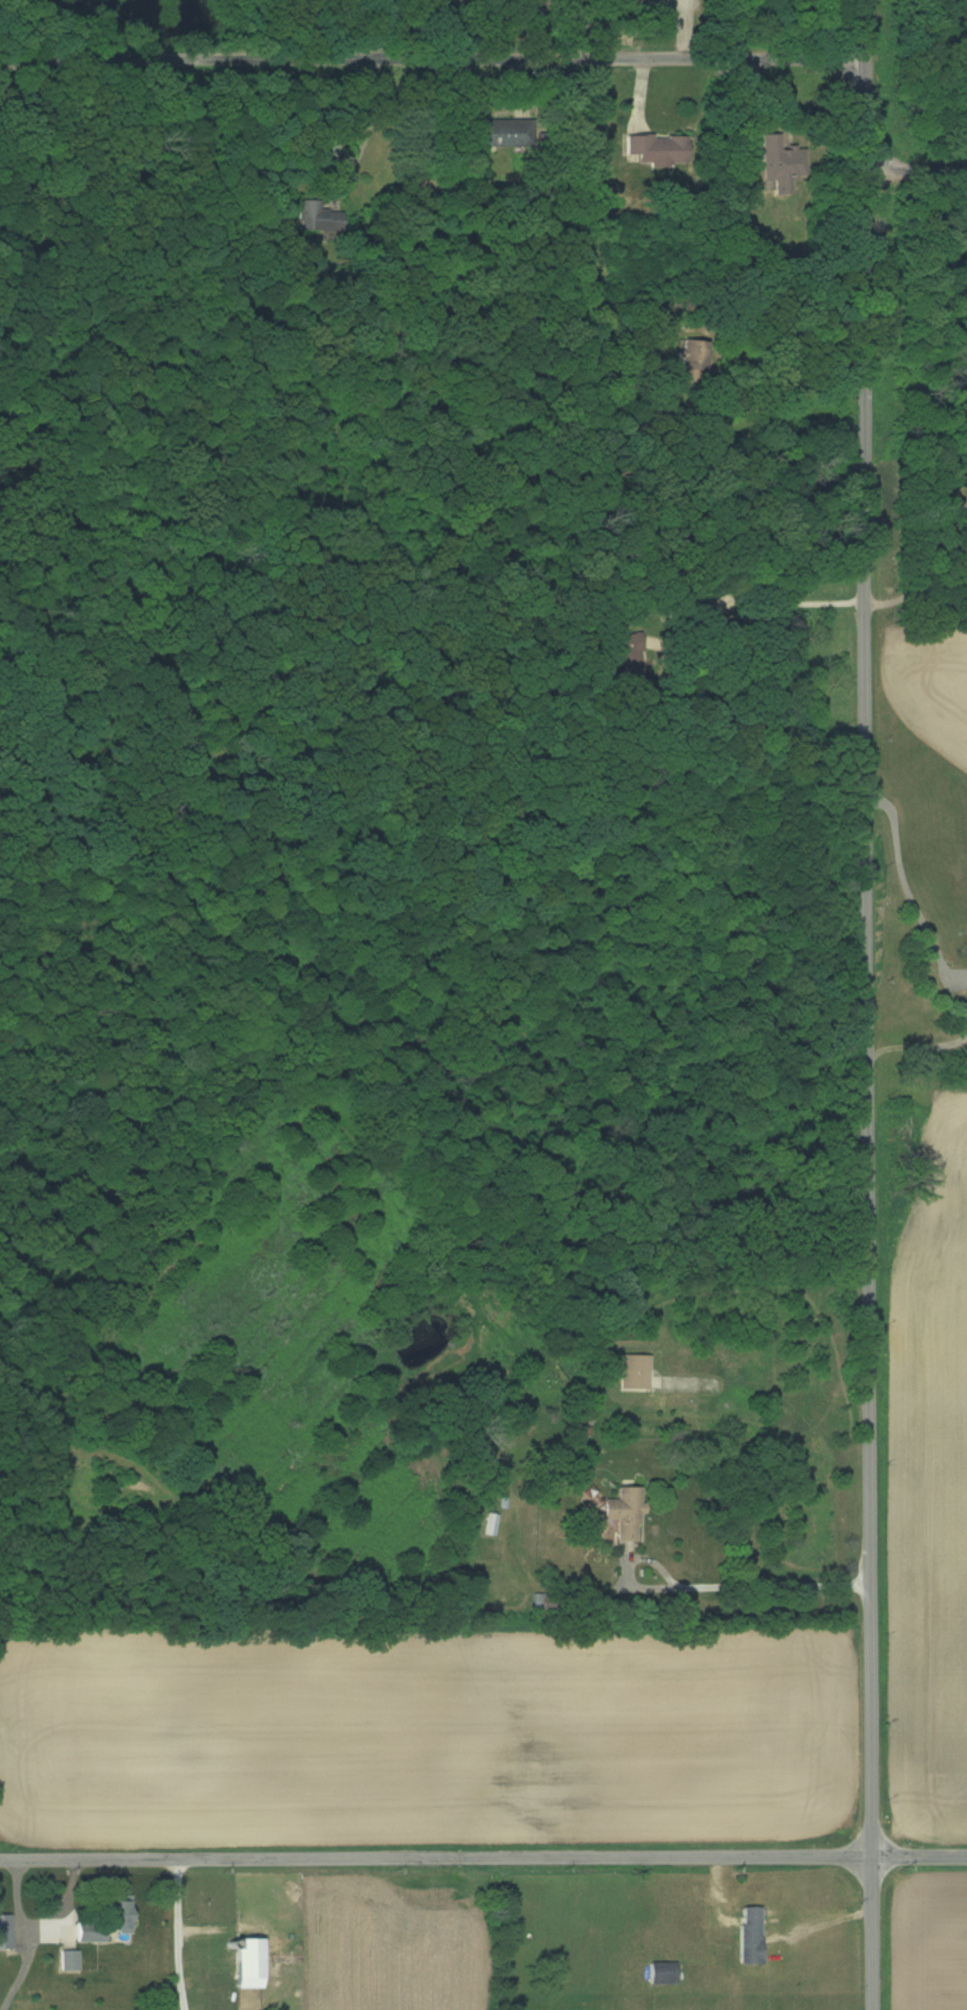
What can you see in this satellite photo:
building: (643, 7)
road: (432, 59)
road: (362, 118)
building: (495, 132)
road: (45, 148)
building: (651, 148)
building: (779, 165)
road: (916, 173)
building: (315, 215)
building: (693, 355)
road: (916, 593)
building: (717, 606)
road: (763, 609)
road: (906, 888)
road: (866, 1005)
building: (626, 1514)
building: (490, 1524)
road: (742, 1573)
road: (483, 1859)
building: (105, 1919)
building: (5, 1930)
building: (750, 1934)
road: (178, 1935)
road: (25, 1937)
building: (69, 1959)
building: (248, 1962)
building: (663, 1973)

